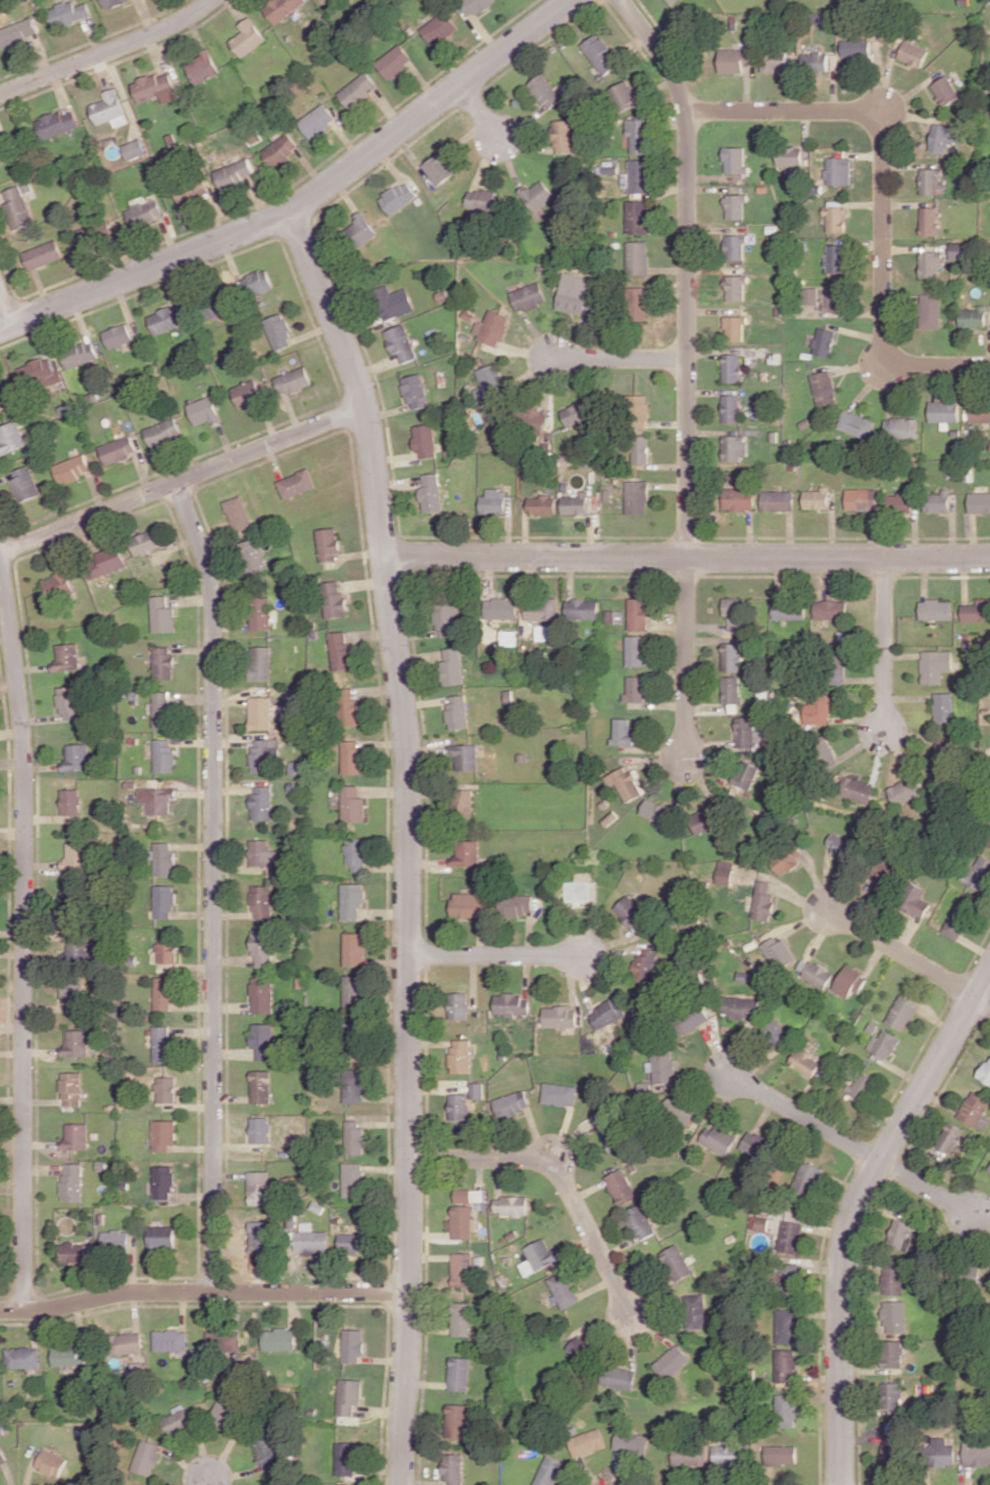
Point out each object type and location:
building: (669, 1)
building: (109, 2)
building: (473, 6)
building: (281, 8)
building: (68, 13)
building: (439, 28)
building: (18, 32)
building: (247, 37)
building: (856, 48)
road: (108, 51)
building: (913, 53)
building: (599, 54)
building: (734, 60)
building: (394, 61)
building: (775, 61)
building: (815, 61)
building: (202, 67)
building: (156, 87)
building: (358, 89)
building: (946, 90)
building: (545, 91)
building: (623, 95)
building: (109, 108)
road: (478, 111)
building: (317, 120)
building: (58, 123)
building: (564, 134)
building: (638, 134)
building: (945, 137)
building: (134, 149)
building: (280, 150)
building: (4, 151)
building: (790, 156)
building: (735, 159)
building: (440, 168)
building: (838, 170)
building: (234, 173)
building: (636, 175)
building: (930, 180)
building: (193, 192)
road: (883, 192)
building: (538, 195)
building: (398, 197)
road: (306, 200)
building: (484, 200)
building: (735, 206)
building: (18, 207)
building: (145, 212)
building: (637, 217)
building: (836, 218)
building: (928, 220)
building: (360, 230)
building: (87, 235)
building: (735, 246)
building: (959, 250)
building: (43, 254)
building: (637, 257)
building: (836, 258)
building: (929, 263)
road: (687, 268)
building: (257, 282)
building: (735, 287)
building: (574, 293)
building: (529, 296)
building: (811, 296)
building: (835, 298)
building: (393, 302)
building: (640, 303)
building: (930, 310)
road: (3, 317)
building: (973, 317)
building: (166, 319)
building: (493, 327)
building: (734, 328)
building: (278, 331)
building: (118, 336)
building: (823, 342)
building: (401, 343)
building: (79, 354)
road: (620, 358)
building: (731, 367)
building: (39, 373)
building: (293, 380)
building: (491, 382)
building: (823, 388)
building: (415, 391)
building: (247, 393)
building: (1, 404)
building: (731, 408)
building: (638, 410)
building: (204, 411)
building: (578, 413)
building: (979, 413)
building: (535, 418)
building: (855, 424)
building: (901, 427)
building: (163, 432)
building: (11, 436)
building: (425, 440)
building: (735, 447)
building: (118, 449)
building: (640, 449)
building: (72, 468)
road: (182, 479)
building: (296, 483)
building: (25, 484)
building: (431, 493)
building: (637, 497)
building: (817, 498)
building: (738, 499)
building: (861, 499)
building: (777, 500)
building: (494, 501)
building: (938, 501)
building: (979, 502)
building: (900, 503)
building: (543, 504)
building: (575, 504)
building: (237, 513)
building: (144, 542)
building: (328, 544)
building: (253, 556)
road: (687, 556)
building: (106, 561)
building: (58, 583)
building: (334, 600)
building: (502, 607)
building: (583, 608)
building: (543, 609)
building: (830, 609)
building: (935, 609)
building: (789, 610)
building: (976, 610)
building: (260, 613)
building: (639, 613)
building: (735, 613)
building: (162, 614)
building: (611, 616)
building: (446, 618)
building: (510, 638)
road: (883, 643)
building: (340, 650)
building: (636, 650)
building: (66, 656)
building: (732, 656)
road: (686, 657)
building: (163, 662)
building: (260, 663)
building: (934, 665)
building: (452, 666)
building: (835, 669)
building: (637, 688)
building: (732, 689)
building: (68, 702)
building: (349, 706)
building: (943, 708)
building: (161, 709)
building: (817, 709)
building: (457, 711)
building: (261, 712)
building: (623, 731)
building: (745, 732)
building: (824, 750)
building: (264, 754)
building: (163, 755)
building: (75, 757)
building: (352, 757)
building: (464, 757)
building: (746, 776)
building: (625, 783)
building: (857, 789)
building: (906, 790)
building: (157, 800)
building: (70, 801)
building: (261, 802)
building: (462, 802)
building: (353, 804)
building: (655, 811)
building: (706, 819)
road: (408, 840)
building: (989, 844)
building: (840, 845)
building: (356, 853)
building: (466, 853)
building: (76, 855)
building: (260, 855)
building: (163, 858)
building: (786, 861)
building: (724, 871)
building: (979, 872)
road: (213, 883)
building: (69, 896)
building: (352, 900)
building: (163, 901)
building: (261, 901)
building: (763, 901)
building: (916, 901)
building: (469, 903)
building: (516, 904)
building: (632, 913)
building: (955, 924)
road: (24, 931)
building: (262, 948)
building: (166, 949)
building: (354, 949)
building: (77, 950)
road: (902, 951)
building: (778, 952)
road: (495, 955)
building: (647, 965)
building: (818, 974)
building: (849, 981)
building: (354, 992)
building: (162, 993)
building: (71, 996)
building: (262, 998)
road: (982, 1001)
building: (511, 1004)
building: (459, 1005)
building: (741, 1007)
building: (902, 1011)
building: (608, 1012)
building: (559, 1016)
building: (694, 1018)
building: (776, 1032)
building: (262, 1040)
building: (76, 1043)
building: (162, 1044)
building: (883, 1044)
building: (462, 1055)
building: (805, 1062)
building: (664, 1069)
building: (985, 1070)
building: (352, 1085)
building: (260, 1086)
building: (859, 1086)
building: (72, 1088)
building: (165, 1089)
building: (477, 1090)
building: (560, 1094)
building: (512, 1103)
building: (459, 1106)
building: (975, 1110)
building: (680, 1112)
road: (806, 1116)
building: (259, 1130)
building: (610, 1133)
building: (164, 1134)
building: (76, 1137)
building: (353, 1137)
building: (950, 1137)
building: (719, 1138)
building: (756, 1144)
building: (989, 1169)
road: (559, 1174)
building: (807, 1178)
building: (352, 1179)
building: (73, 1181)
building: (163, 1181)
building: (621, 1186)
building: (259, 1187)
road: (925, 1187)
building: (463, 1195)
building: (511, 1205)
road: (853, 1210)
building: (761, 1220)
building: (641, 1221)
building: (462, 1222)
building: (901, 1233)
building: (791, 1236)
building: (162, 1237)
building: (263, 1237)
building: (310, 1238)
building: (115, 1239)
building: (351, 1242)
building: (73, 1251)
building: (537, 1256)
building: (677, 1262)
building: (461, 1269)
building: (790, 1276)
building: (894, 1279)
building: (563, 1290)
road: (203, 1291)
building: (696, 1311)
building: (896, 1316)
building: (462, 1318)
building: (787, 1325)
building: (278, 1339)
building: (170, 1340)
building: (223, 1340)
building: (127, 1343)
building: (352, 1345)
building: (580, 1348)
building: (894, 1353)
building: (69, 1356)
building: (23, 1357)
building: (672, 1362)
building: (787, 1365)
building: (459, 1373)
building: (619, 1377)
building: (349, 1395)
building: (893, 1395)
building: (787, 1410)
building: (225, 1415)
building: (175, 1420)
building: (456, 1420)
building: (588, 1442)
building: (632, 1443)
building: (894, 1450)
building: (266, 1452)
building: (941, 1453)
building: (782, 1454)
building: (977, 1454)
building: (731, 1455)
building: (690, 1456)
building: (146, 1457)
building: (3, 1458)
building: (346, 1458)
building: (51, 1462)
building: (453, 1468)
building: (550, 1471)
road: (209, 1482)
building: (347, 1484)

